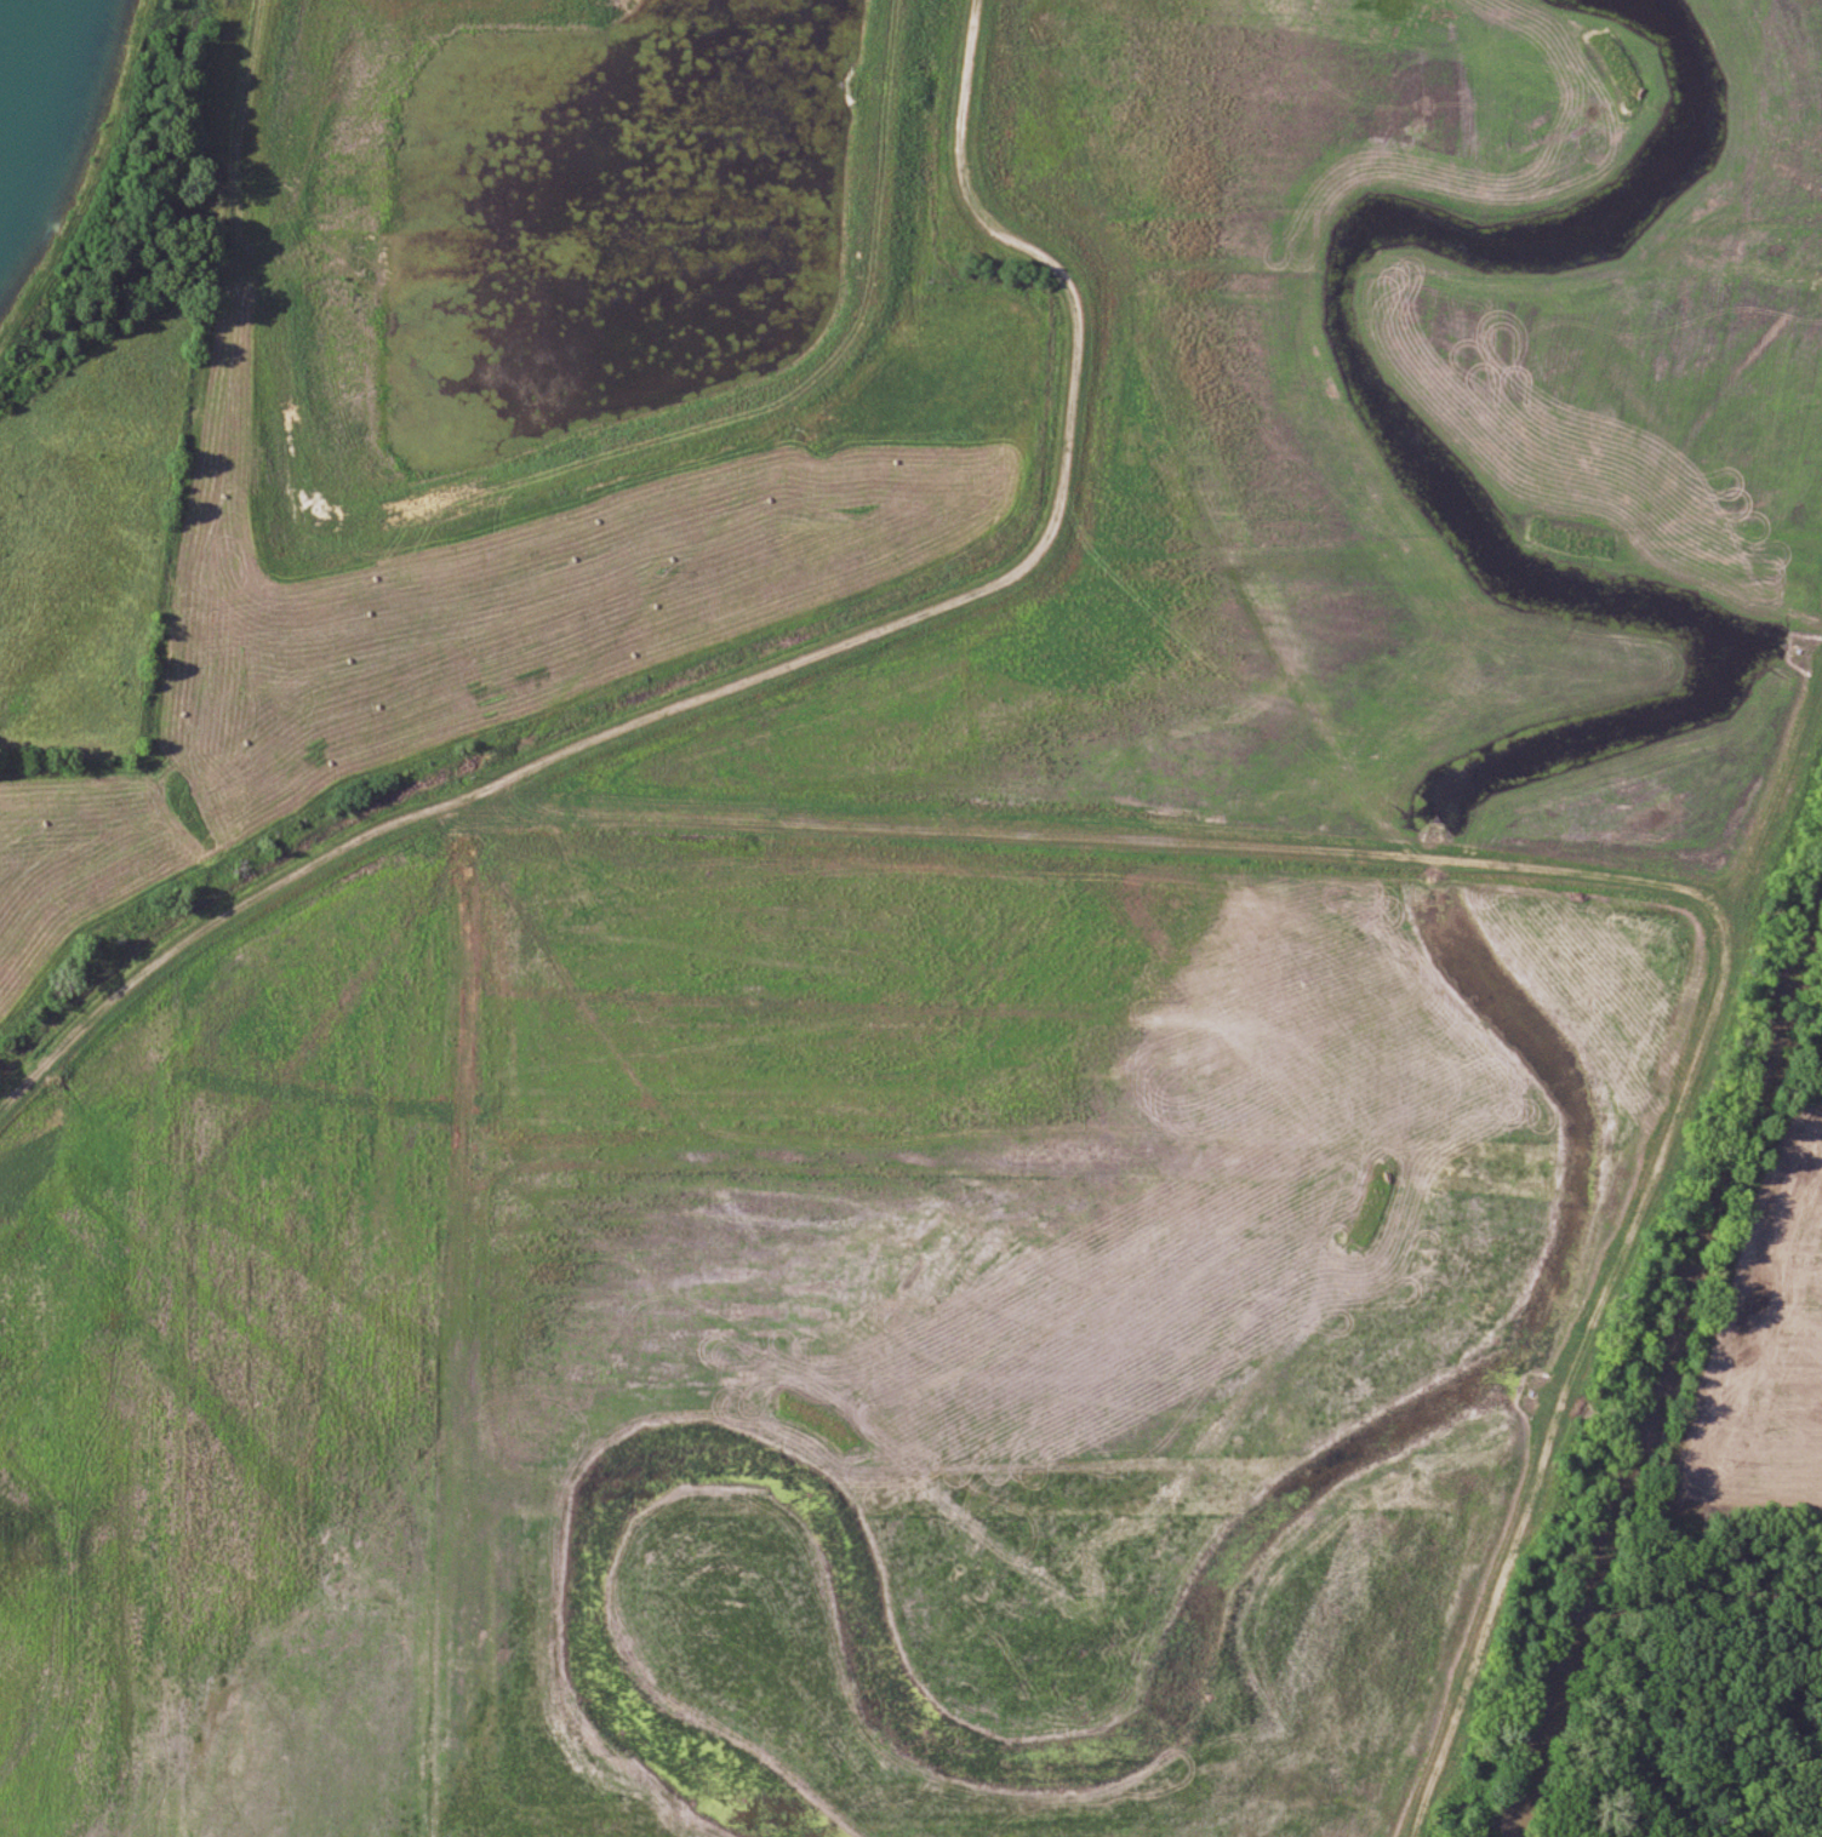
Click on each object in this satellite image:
river: (1658, 1364)

